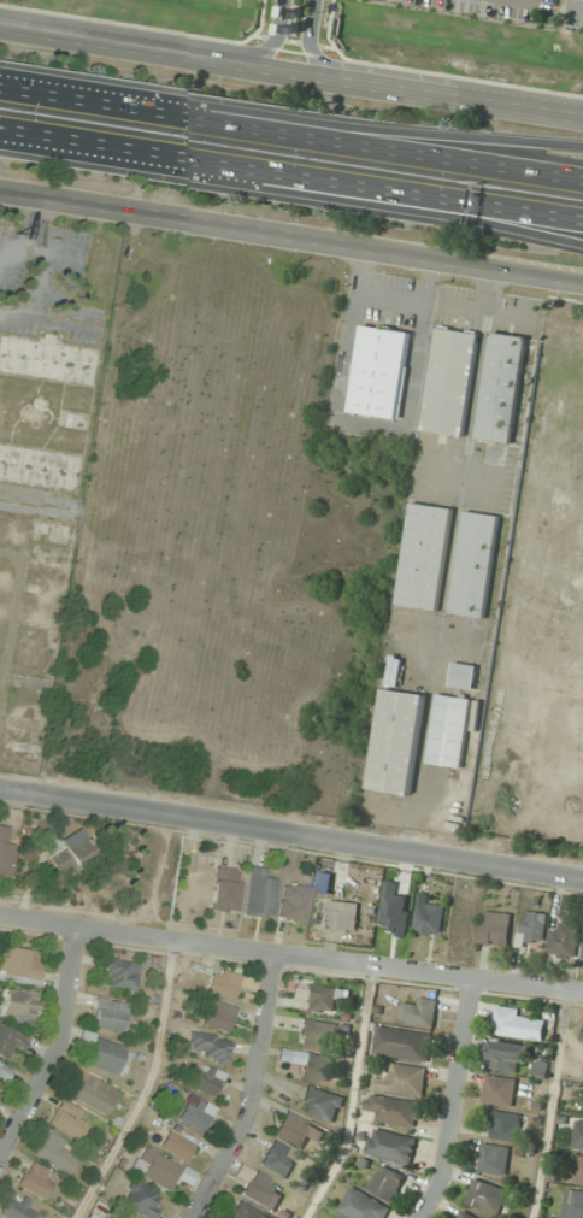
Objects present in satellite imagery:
road: (577, 6)
road: (272, 40)
road: (312, 43)
road: (290, 72)
road: (307, 119)
road: (290, 136)
road: (291, 176)
road: (361, 204)
road: (291, 235)
building: (70, 364)
building: (382, 372)
building: (453, 382)
building: (503, 388)
building: (426, 557)
building: (477, 564)
building: (465, 676)
building: (450, 731)
building: (399, 742)
road: (291, 831)
building: (6, 851)
building: (67, 851)
building: (224, 889)
building: (259, 893)
building: (294, 902)
building: (342, 916)
building: (430, 917)
building: (496, 928)
building: (534, 928)
building: (565, 940)
road: (290, 955)
building: (582, 958)
building: (20, 965)
building: (122, 976)
building: (223, 984)
building: (322, 999)
building: (19, 1006)
building: (422, 1012)
building: (110, 1016)
building: (219, 1016)
building: (516, 1023)
building: (317, 1034)
building: (582, 1038)
road: (55, 1043)
building: (402, 1043)
building: (10, 1045)
building: (210, 1047)
building: (106, 1054)
building: (508, 1055)
building: (317, 1066)
building: (4, 1073)
building: (401, 1079)
building: (205, 1081)
building: (500, 1090)
road: (251, 1093)
building: (93, 1094)
road: (450, 1099)
building: (323, 1104)
building: (394, 1110)
building: (195, 1116)
building: (67, 1120)
building: (506, 1126)
building: (298, 1130)
building: (578, 1135)
building: (176, 1146)
building: (390, 1146)
building: (55, 1153)
building: (494, 1159)
building: (277, 1160)
building: (155, 1170)
building: (579, 1171)
building: (36, 1181)
building: (387, 1183)
building: (261, 1191)
building: (487, 1196)
building: (141, 1201)
building: (573, 1205)
building: (363, 1206)
building: (18, 1208)
building: (246, 1212)
building: (466, 1214)

